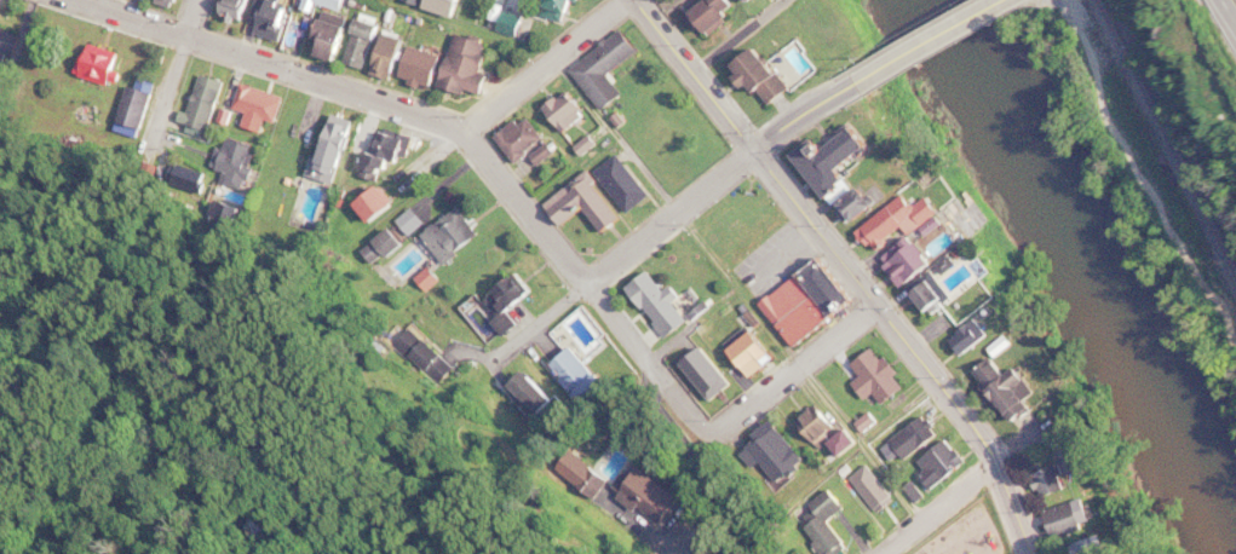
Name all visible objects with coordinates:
building: (745, 0)
building: (427, 1)
building: (172, 2)
building: (322, 4)
building: (343, 4)
building: (459, 5)
building: (242, 8)
building: (554, 8)
building: (570, 10)
road: (162, 12)
road: (1226, 12)
building: (399, 13)
building: (723, 15)
building: (278, 18)
building: (429, 18)
road: (184, 19)
building: (508, 22)
building: (523, 24)
road: (741, 36)
building: (337, 40)
road: (927, 41)
building: (370, 44)
building: (5, 46)
building: (385, 54)
building: (398, 57)
road: (275, 64)
road: (714, 64)
road: (867, 64)
road: (547, 65)
building: (98, 67)
building: (431, 67)
building: (476, 67)
building: (614, 69)
road: (696, 73)
road: (177, 75)
building: (770, 77)
road: (413, 99)
building: (205, 103)
building: (259, 106)
building: (132, 108)
building: (573, 111)
road: (803, 111)
building: (225, 116)
railway: (1168, 133)
building: (528, 139)
building: (591, 145)
building: (551, 151)
building: (335, 154)
building: (389, 154)
building: (234, 157)
road: (1152, 160)
building: (834, 163)
building: (184, 174)
building: (628, 184)
building: (338, 200)
building: (852, 202)
building: (380, 204)
building: (866, 204)
building: (588, 206)
road: (662, 210)
building: (901, 220)
building: (412, 221)
building: (455, 236)
building: (385, 247)
road: (630, 250)
river: (1106, 255)
building: (406, 262)
building: (910, 262)
building: (429, 279)
road: (587, 284)
building: (834, 287)
building: (512, 294)
building: (925, 294)
building: (935, 296)
building: (660, 304)
building: (702, 310)
building: (800, 312)
building: (482, 323)
building: (508, 324)
road: (922, 333)
building: (583, 334)
building: (970, 336)
building: (420, 342)
road: (908, 342)
building: (1000, 346)
building: (755, 353)
road: (791, 353)
road: (795, 370)
building: (709, 374)
building: (880, 376)
building: (577, 379)
building: (1006, 391)
building: (542, 399)
road: (959, 416)
building: (870, 421)
building: (822, 425)
building: (913, 442)
building: (847, 444)
building: (781, 451)
building: (941, 467)
building: (1056, 473)
building: (590, 480)
building: (606, 481)
building: (874, 490)
building: (913, 491)
building: (643, 495)
building: (665, 498)
road: (939, 508)
building: (1073, 518)
building: (827, 523)
building: (1091, 547)
road: (755, 553)

